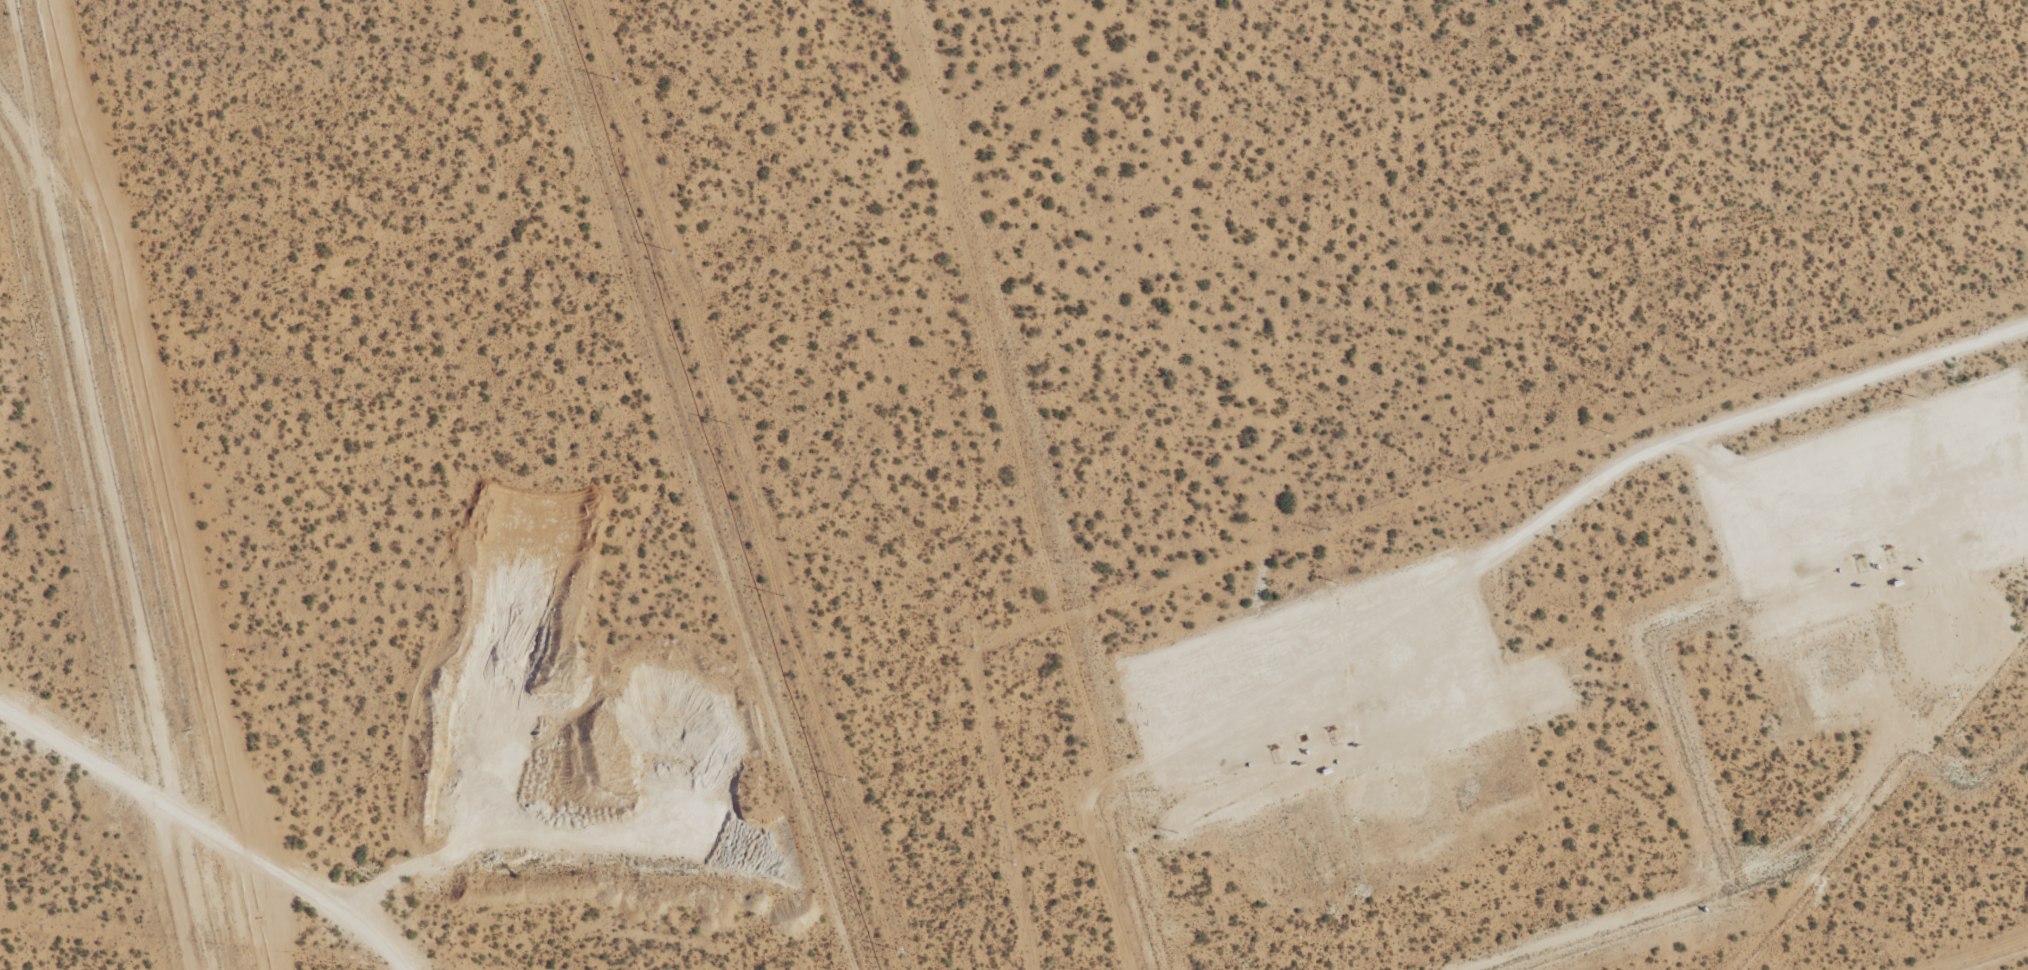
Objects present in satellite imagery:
power tower: (614, 79)
power tower: (670, 252)
road: (2027, 398)
road: (108, 419)
road: (1733, 419)
power tower: (726, 424)
power tower: (783, 597)
power tower: (842, 778)
road: (211, 828)
power tower: (898, 950)

